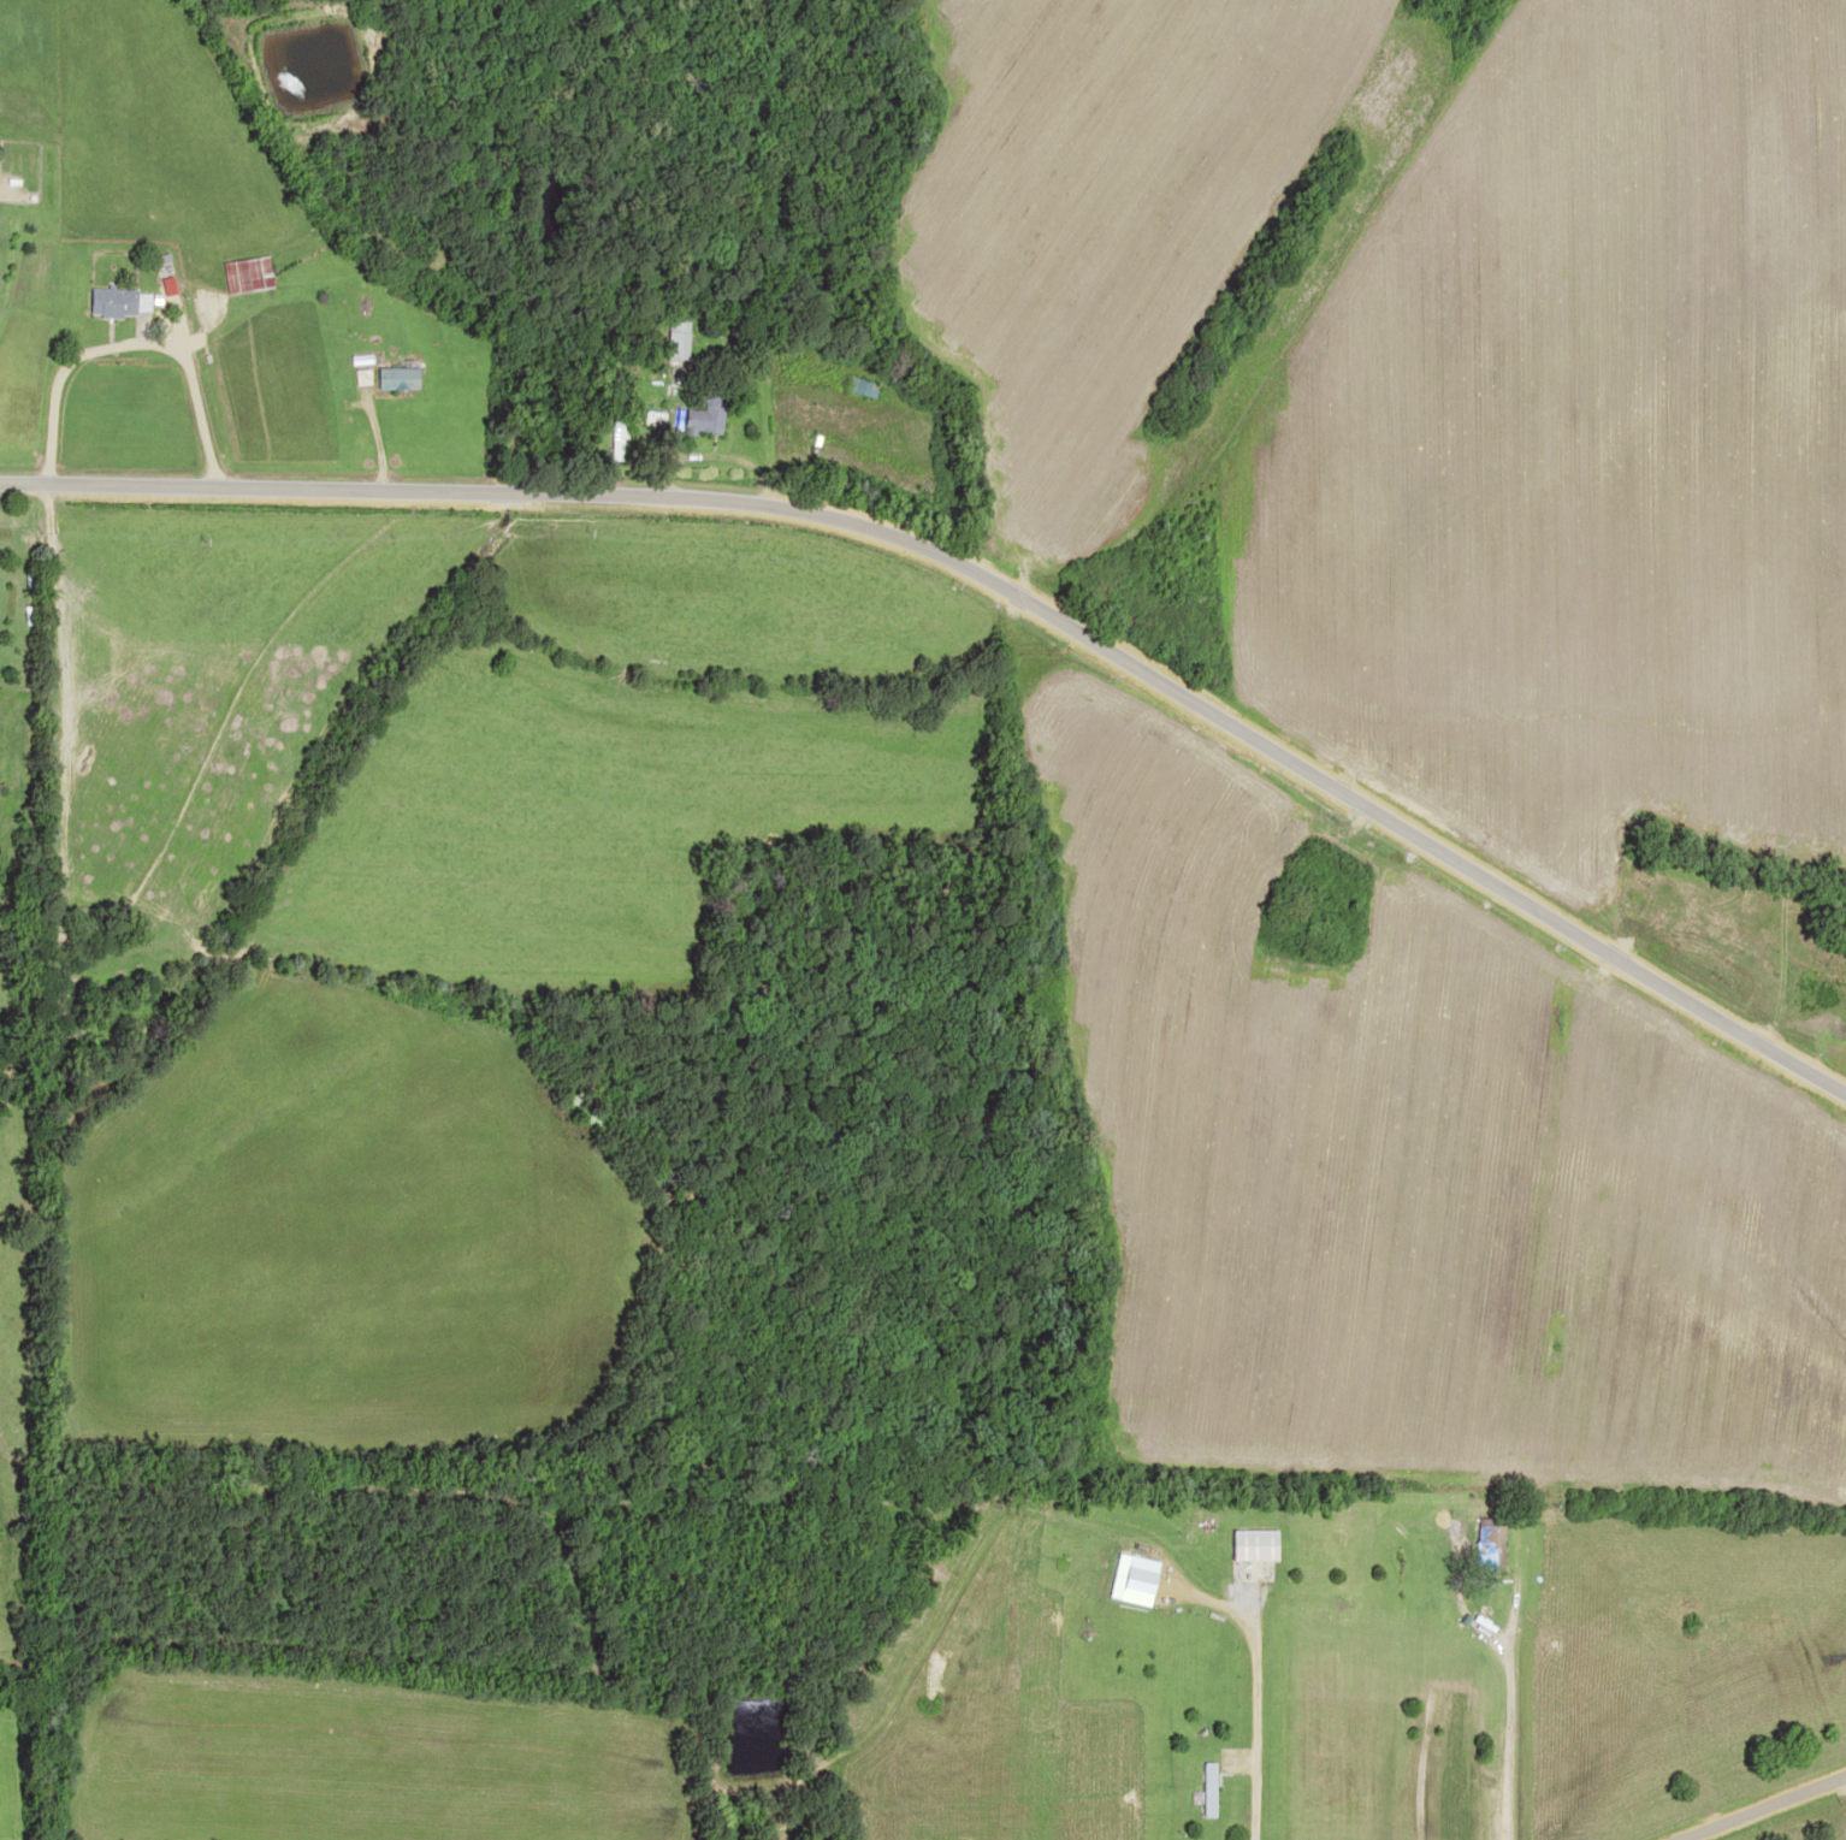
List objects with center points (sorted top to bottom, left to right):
building: (242, 273)
building: (106, 301)
building: (674, 338)
building: (394, 377)
building: (857, 385)
building: (704, 413)
building: (615, 437)
road: (988, 582)
building: (1484, 1543)
building: (1248, 1545)
building: (1126, 1580)
road: (1491, 1585)
building: (1202, 1789)
road: (1769, 1809)

